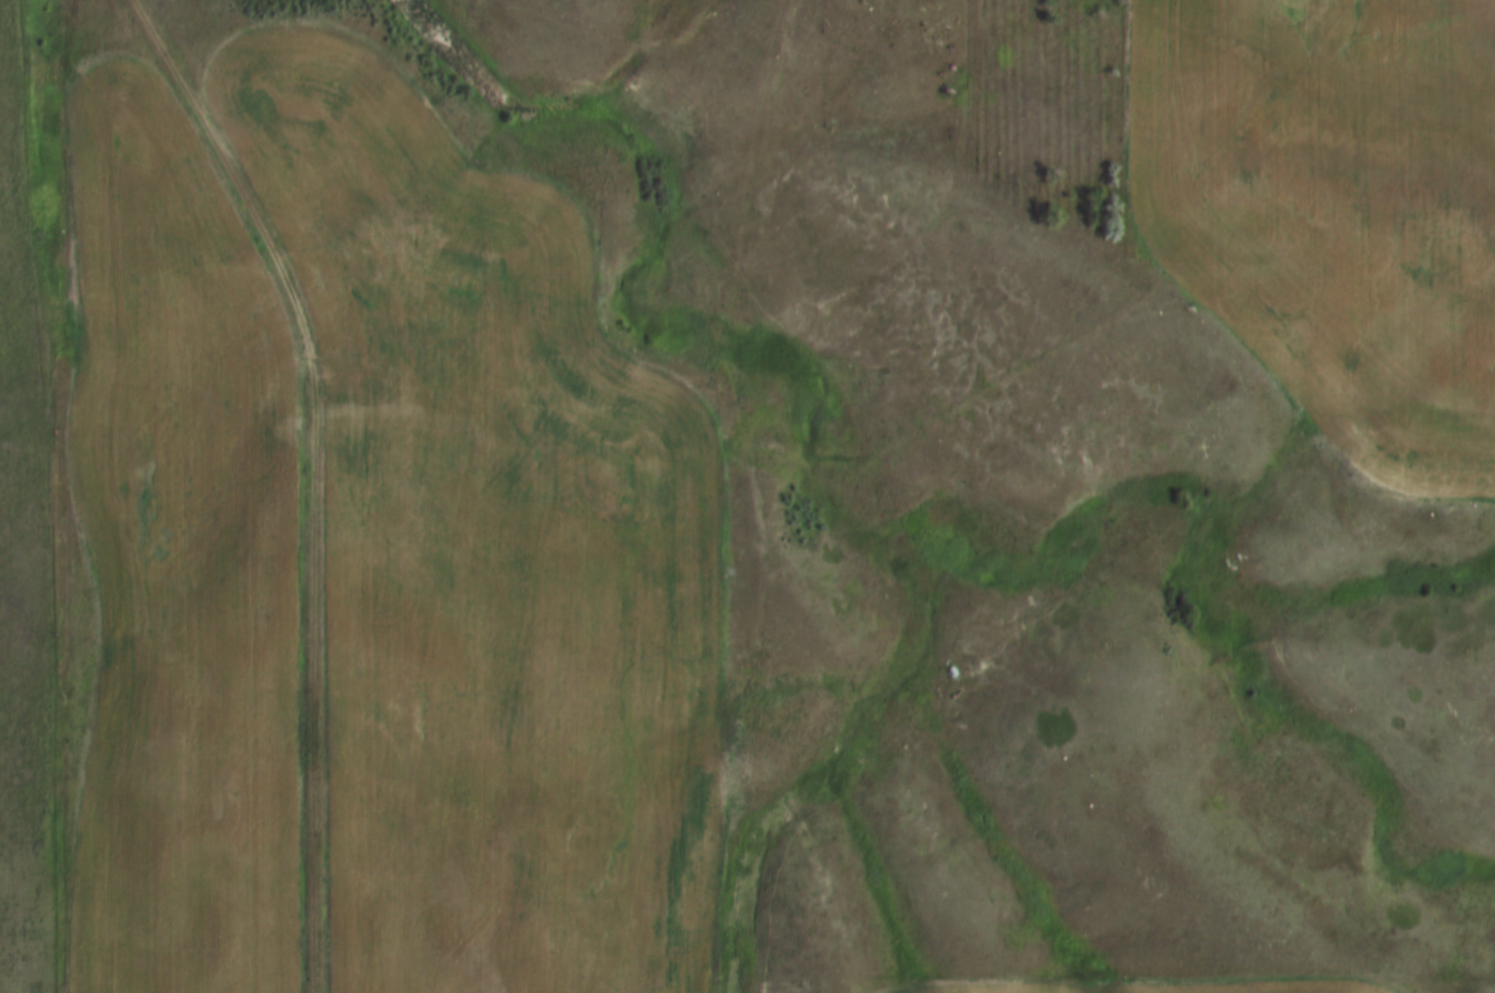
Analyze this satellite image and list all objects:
road: (310, 474)

